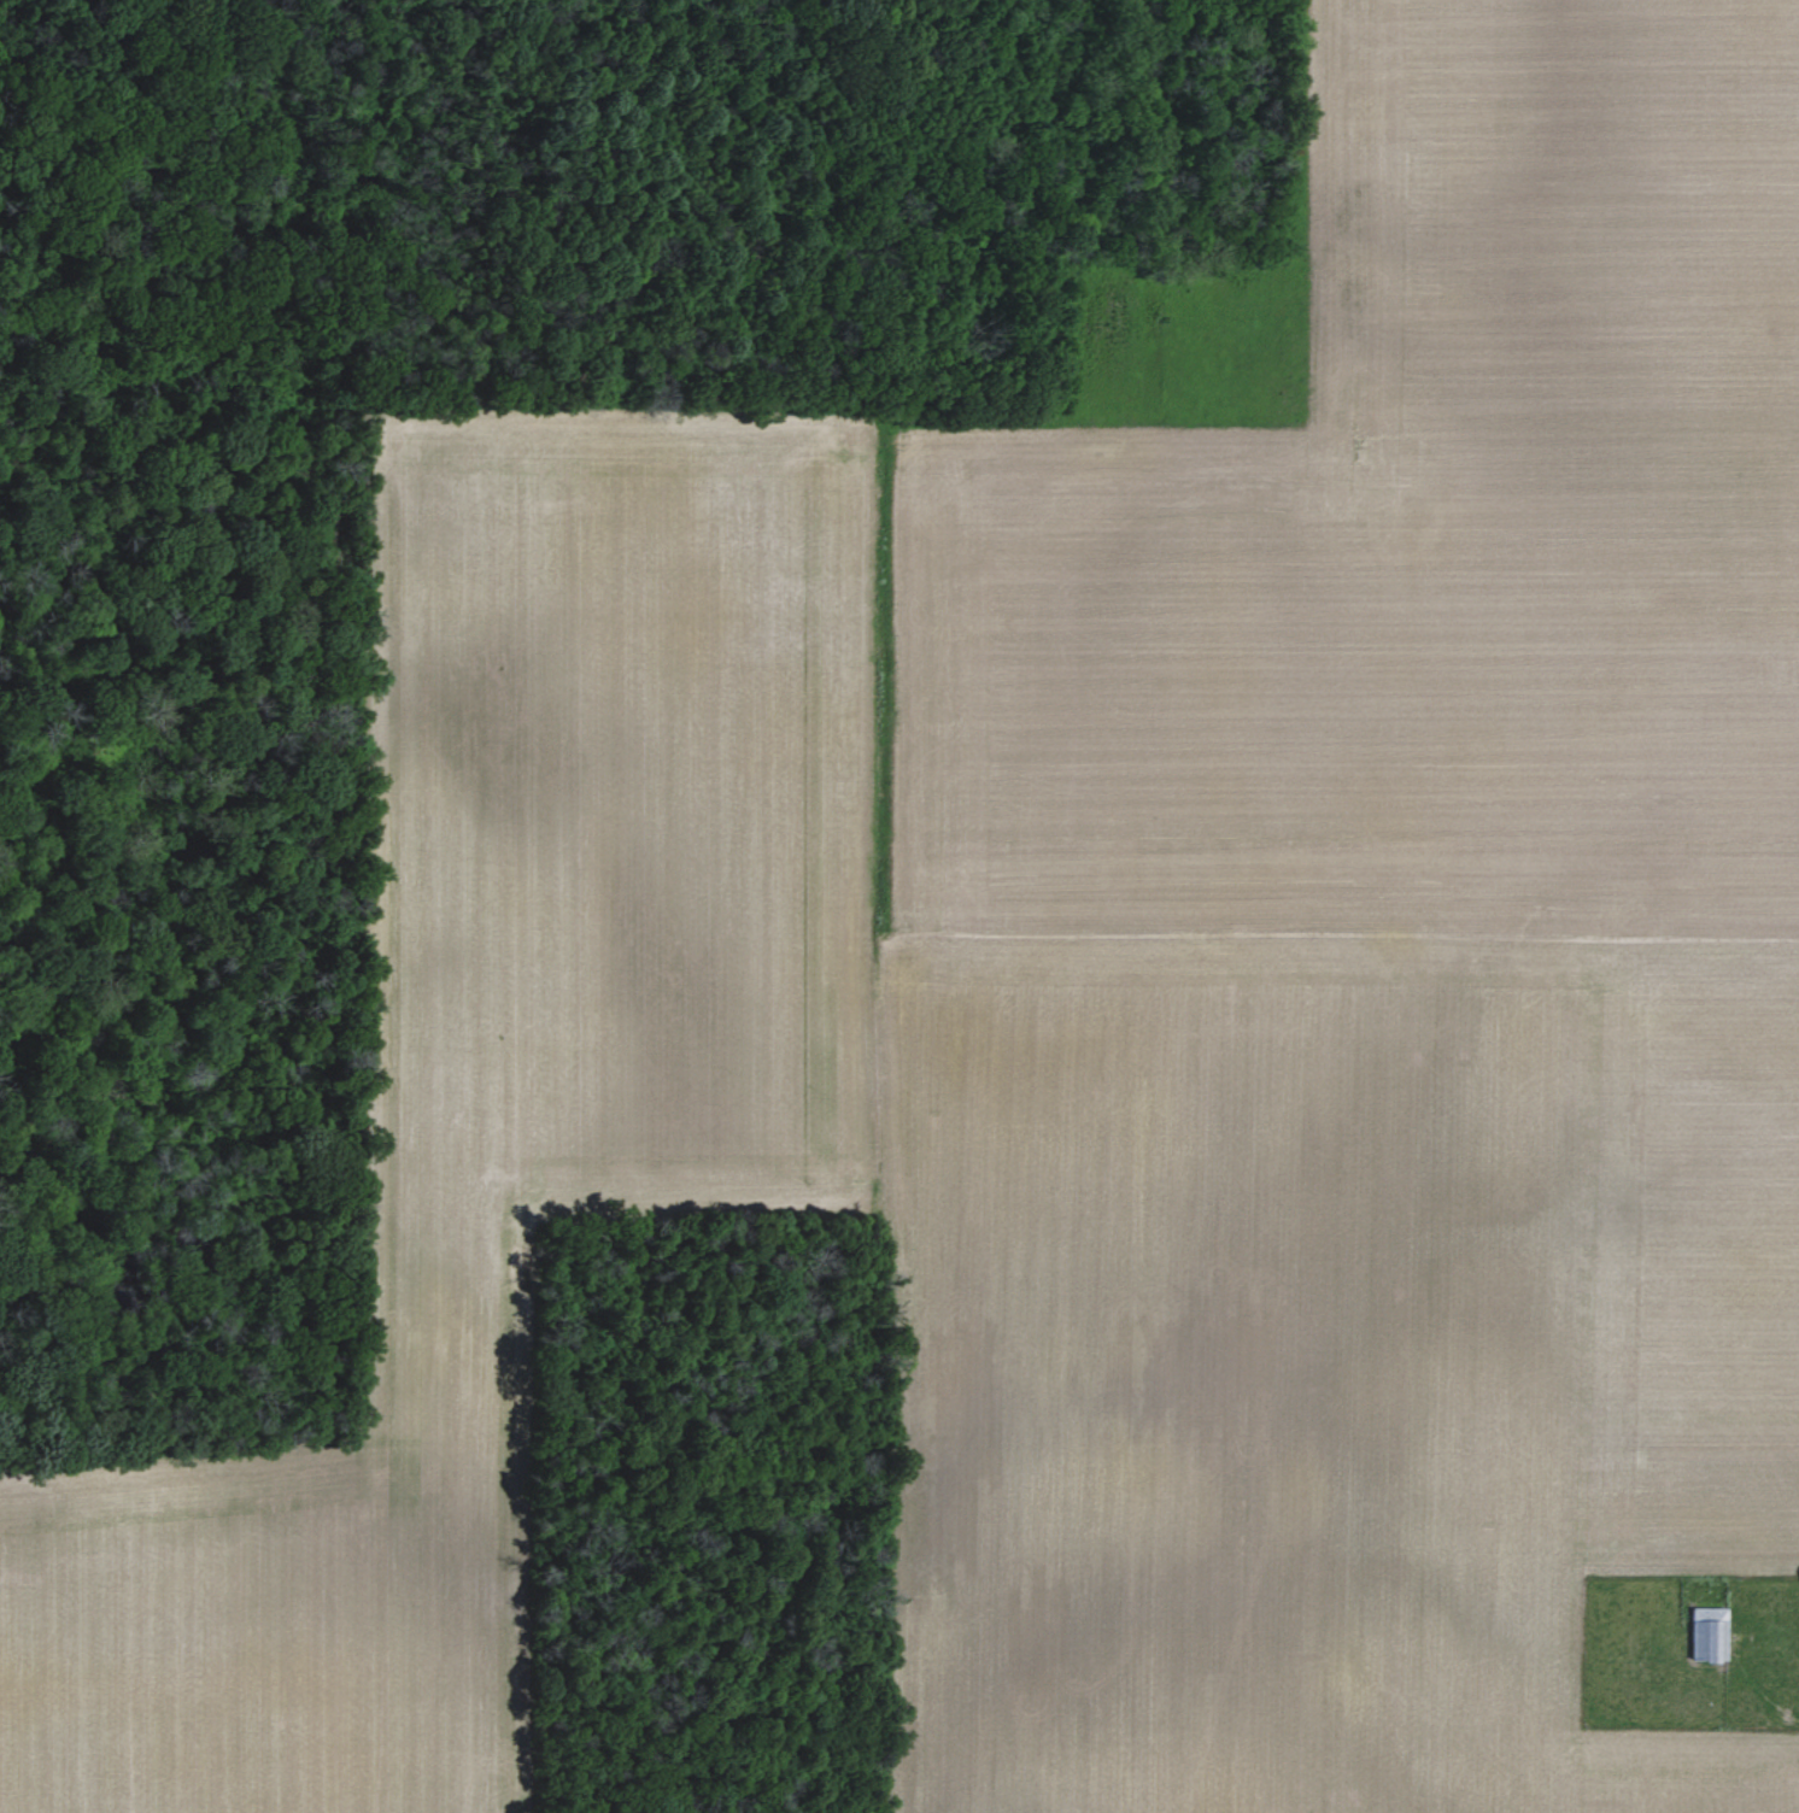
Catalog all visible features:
building: (1709, 1632)

